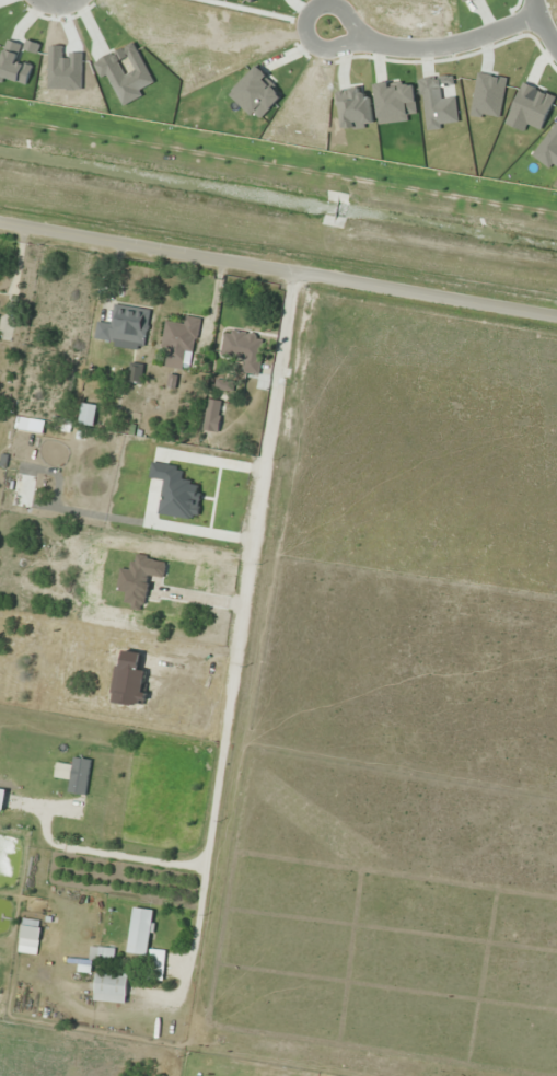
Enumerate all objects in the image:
road: (58, 3)
road: (255, 11)
road: (307, 20)
road: (542, 24)
road: (450, 45)
road: (278, 265)
building: (126, 325)
building: (181, 338)
building: (244, 348)
building: (89, 414)
building: (213, 414)
building: (2, 798)
building: (141, 930)
building: (31, 935)
building: (112, 987)

